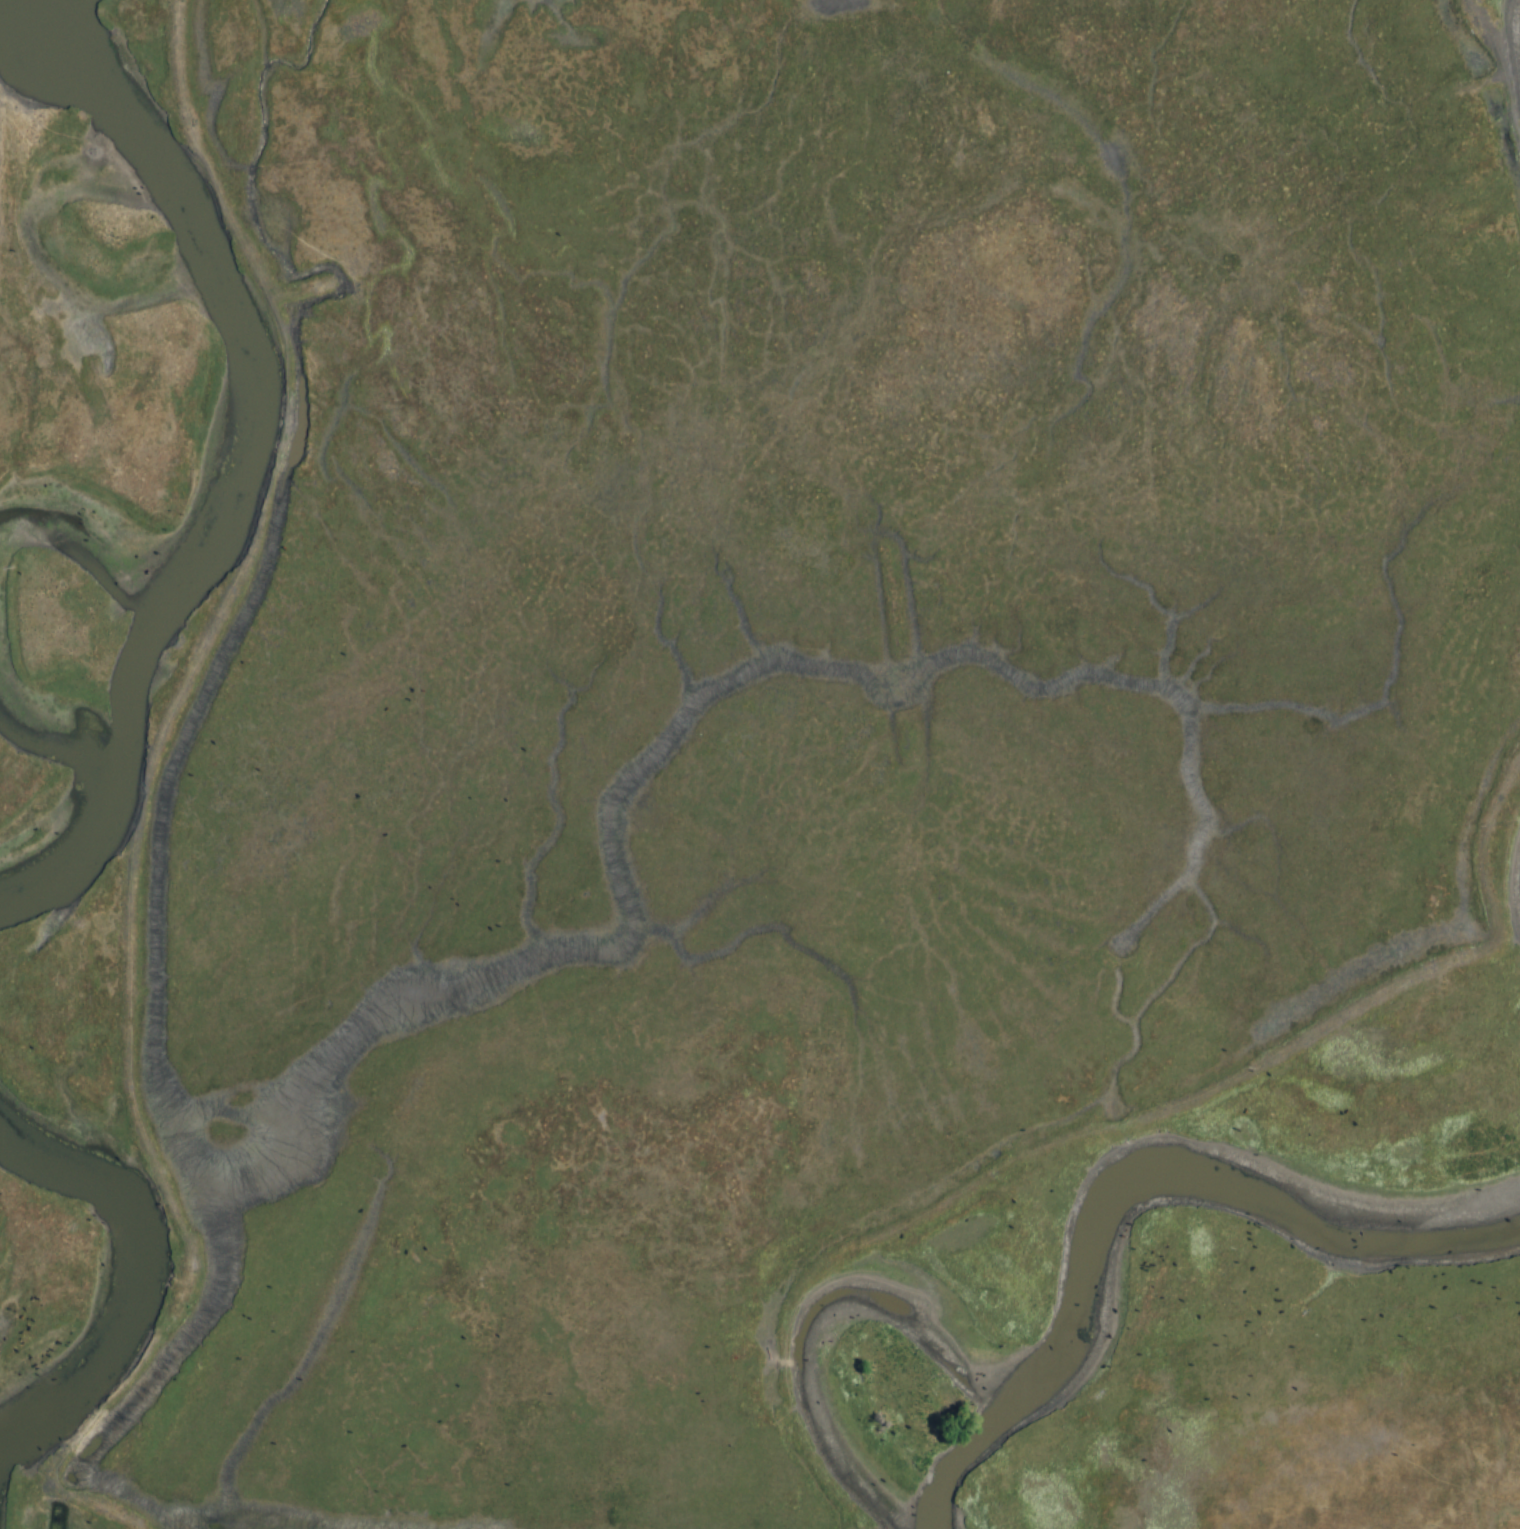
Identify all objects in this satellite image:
river: (1078, 1329)

